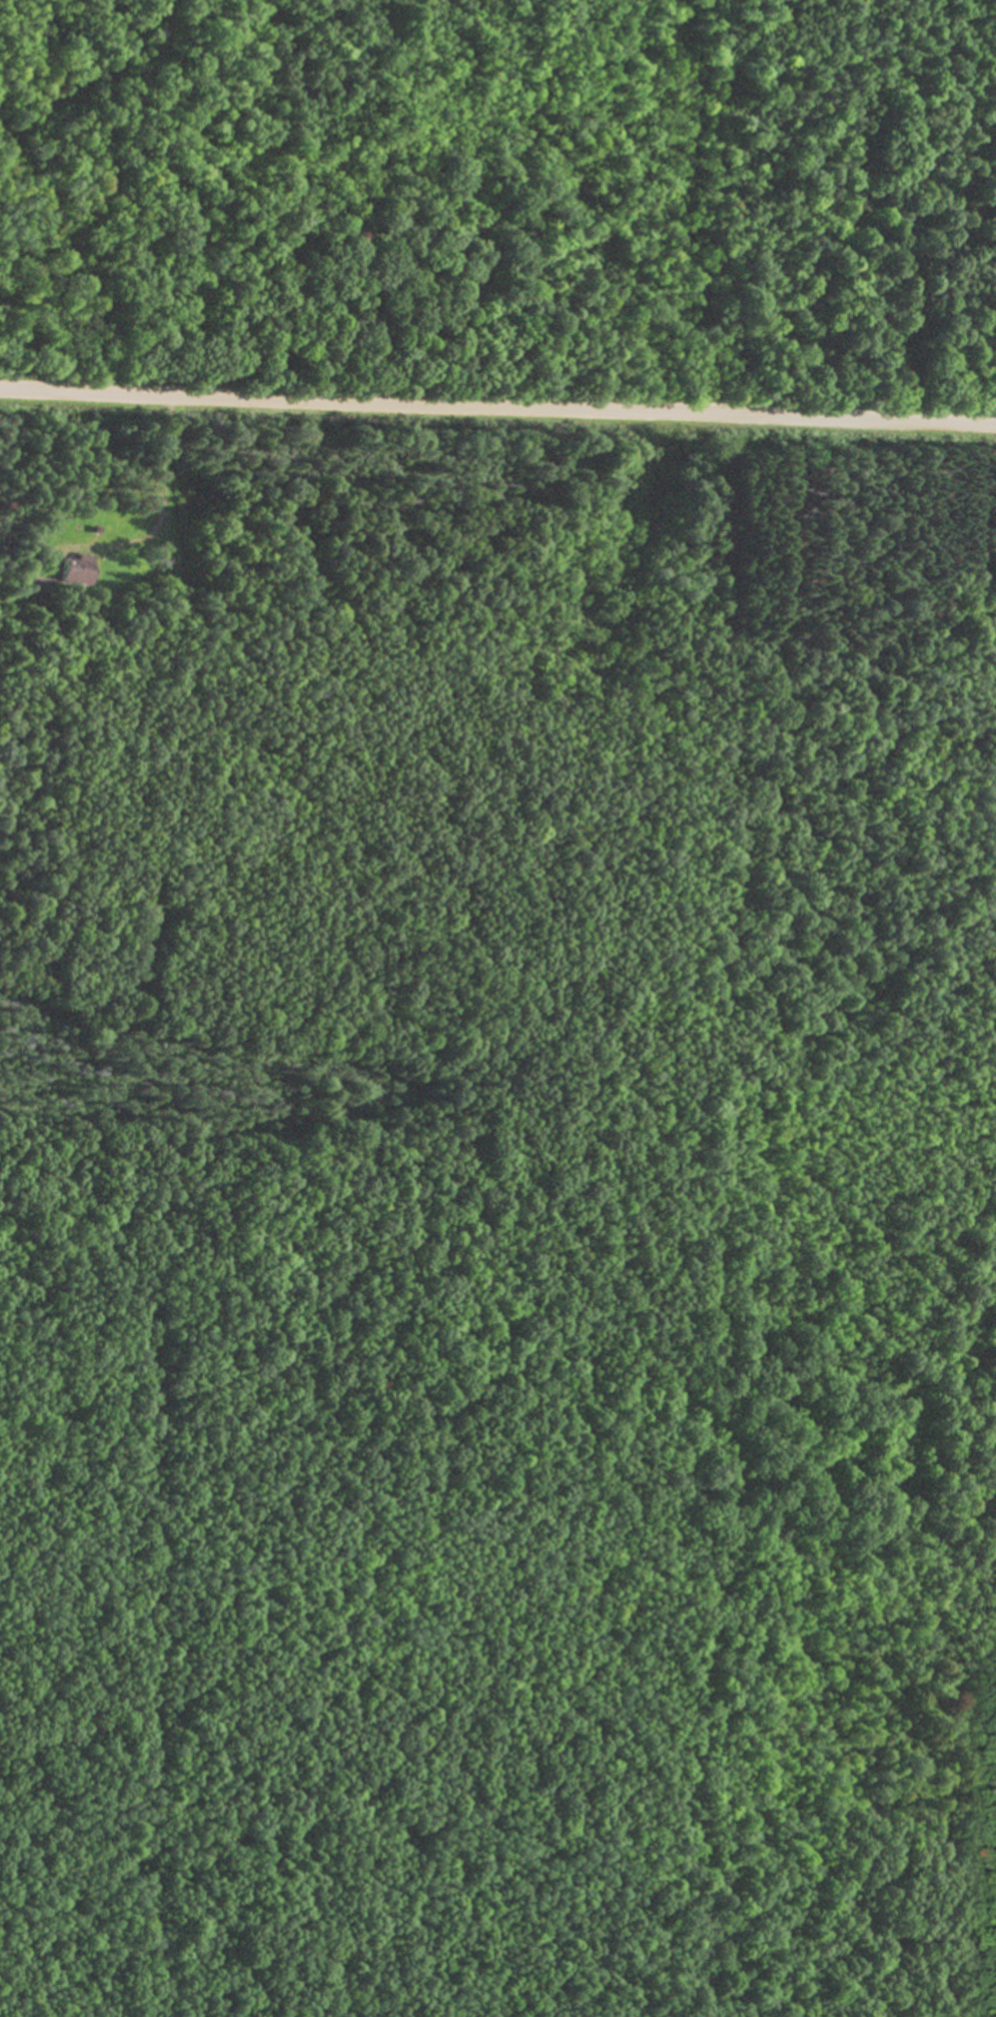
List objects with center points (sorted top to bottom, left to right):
road: (498, 404)
building: (81, 570)
building: (41, 587)

